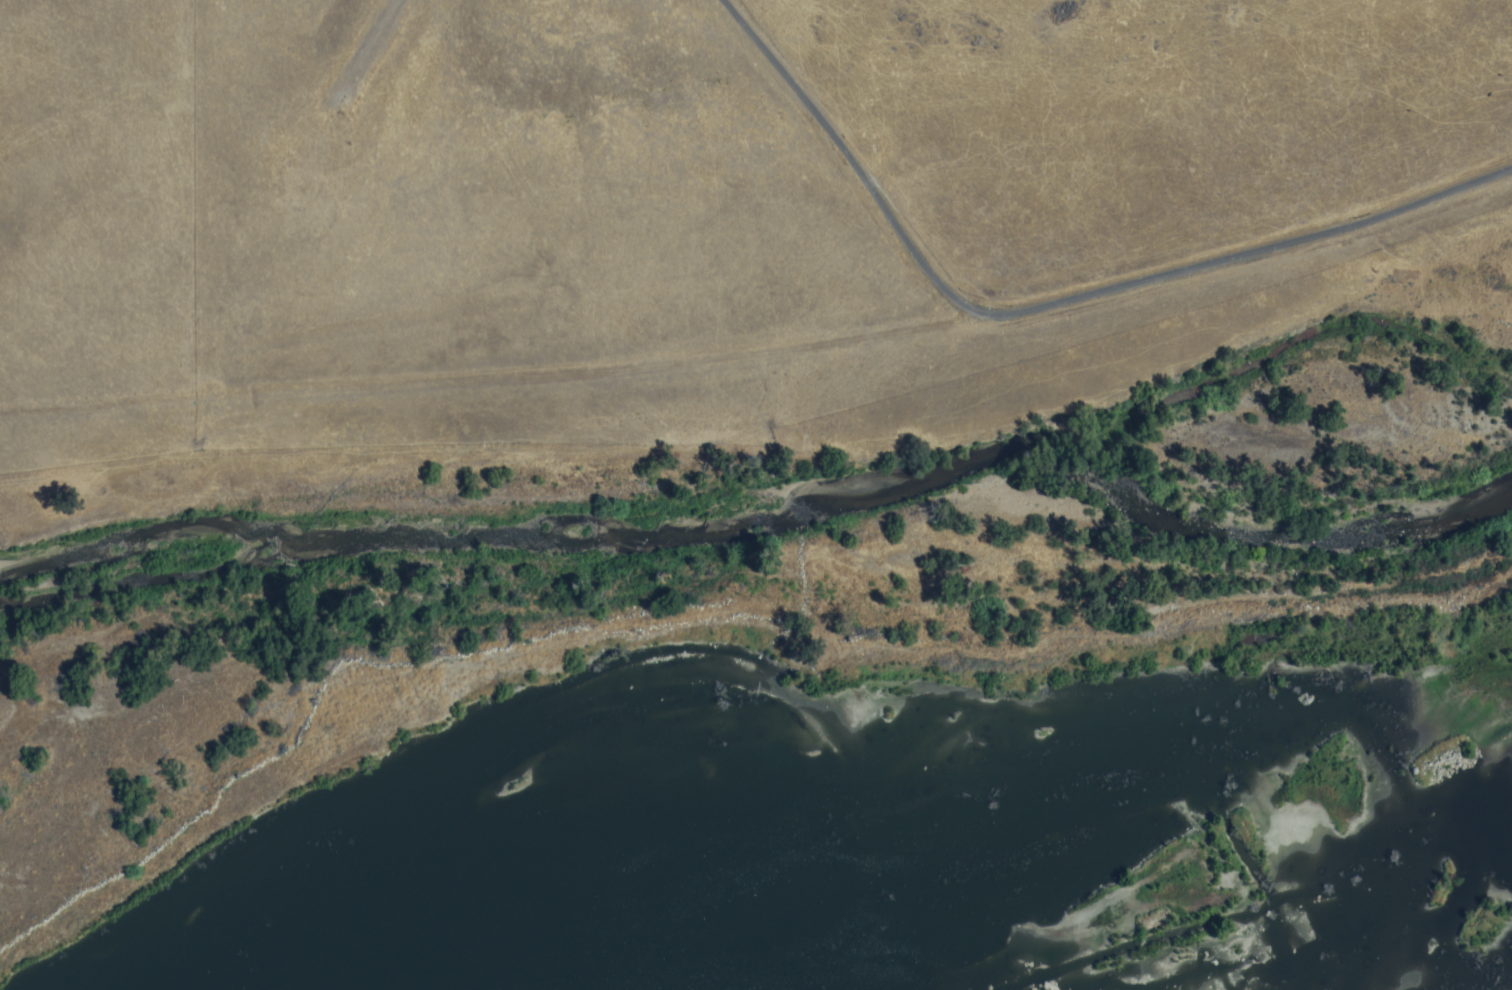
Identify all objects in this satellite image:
road: (1053, 302)
river: (1134, 498)
river: (589, 526)

